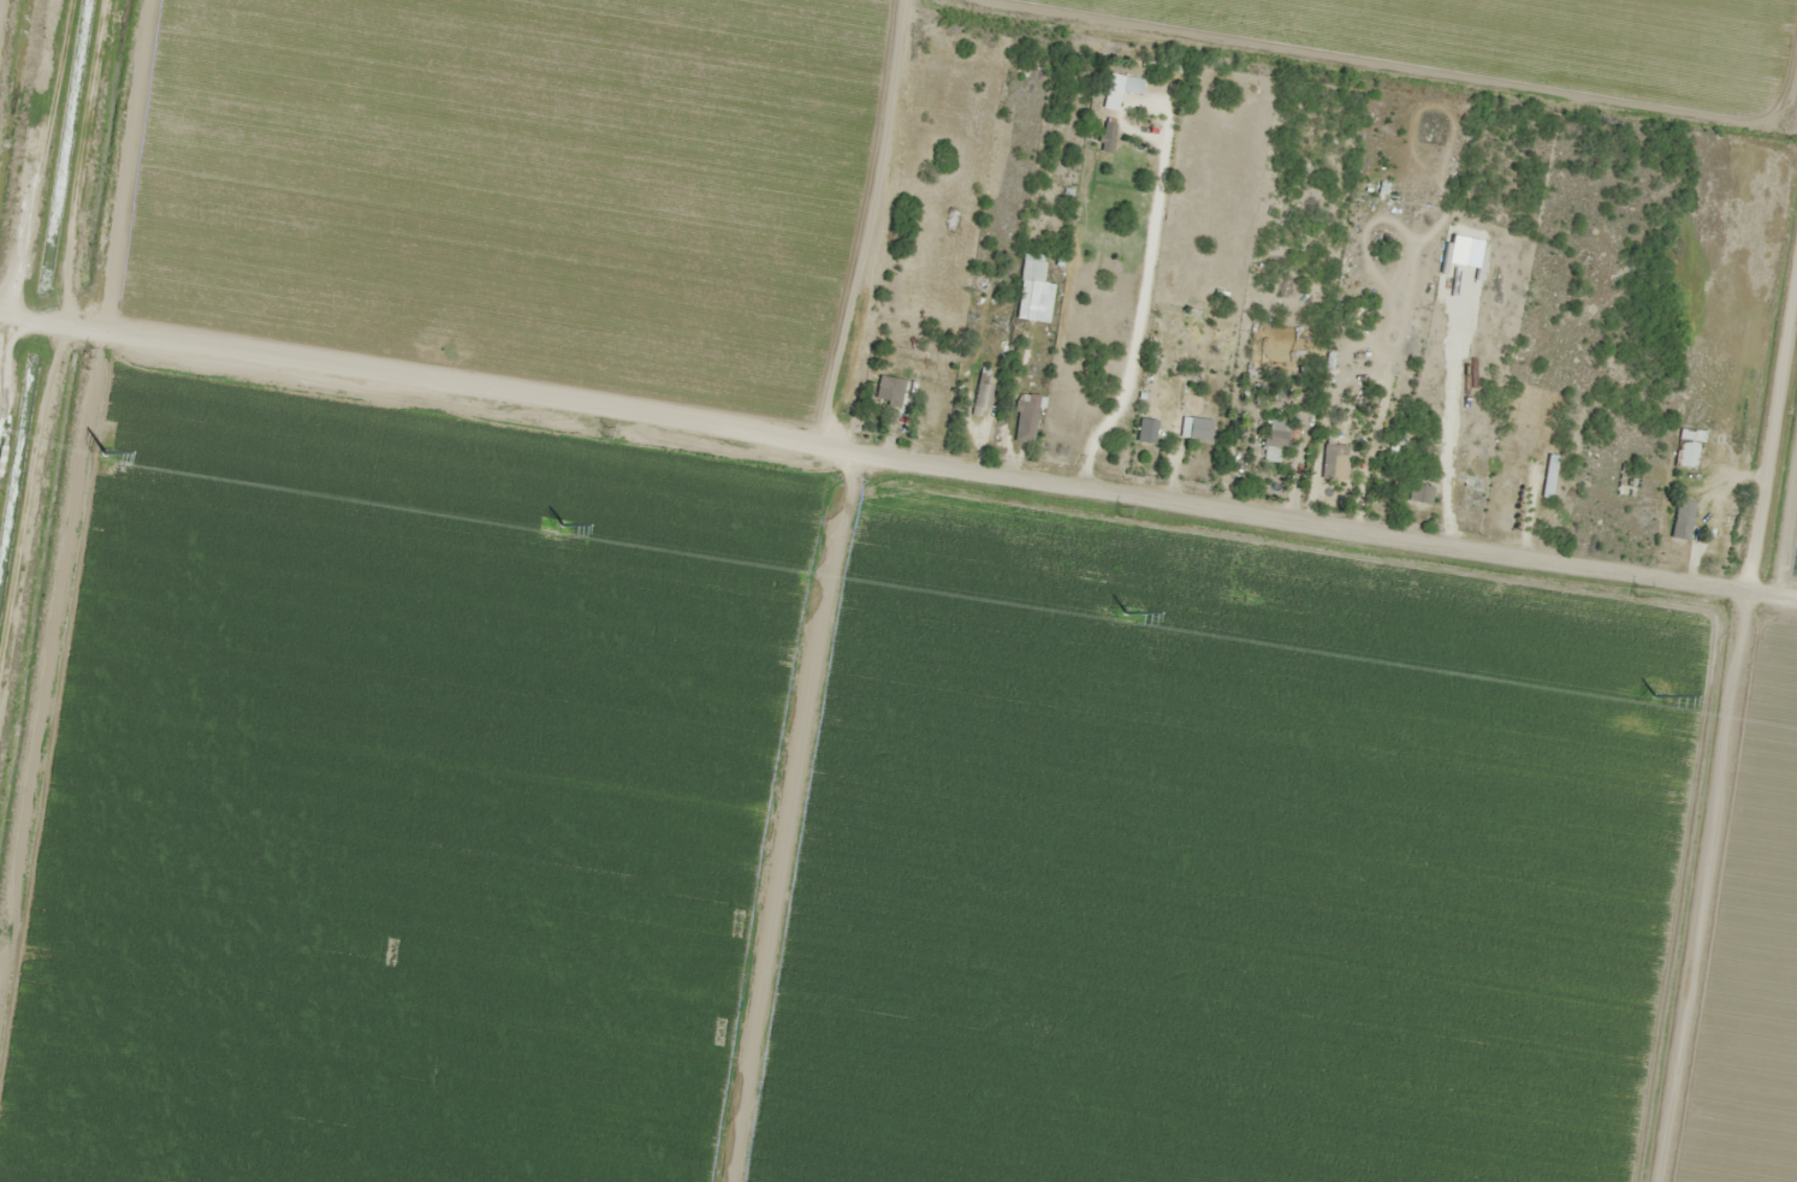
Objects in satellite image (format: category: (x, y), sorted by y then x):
building: (1120, 90)
building: (1107, 137)
building: (1032, 269)
power tower: (91, 352)
building: (889, 391)
building: (981, 393)
building: (933, 408)
building: (1025, 418)
building: (1145, 428)
building: (1193, 428)
power tower: (605, 432)
building: (1277, 435)
building: (1689, 449)
power tower: (106, 453)
road: (878, 455)
building: (1334, 462)
road: (73, 468)
building: (1419, 494)
power tower: (1121, 512)
building: (1682, 521)
power tower: (562, 525)
building: (1722, 530)
power tower: (1638, 592)
road: (1778, 594)
power tower: (1125, 616)
power tower: (1654, 699)
road: (1734, 756)

